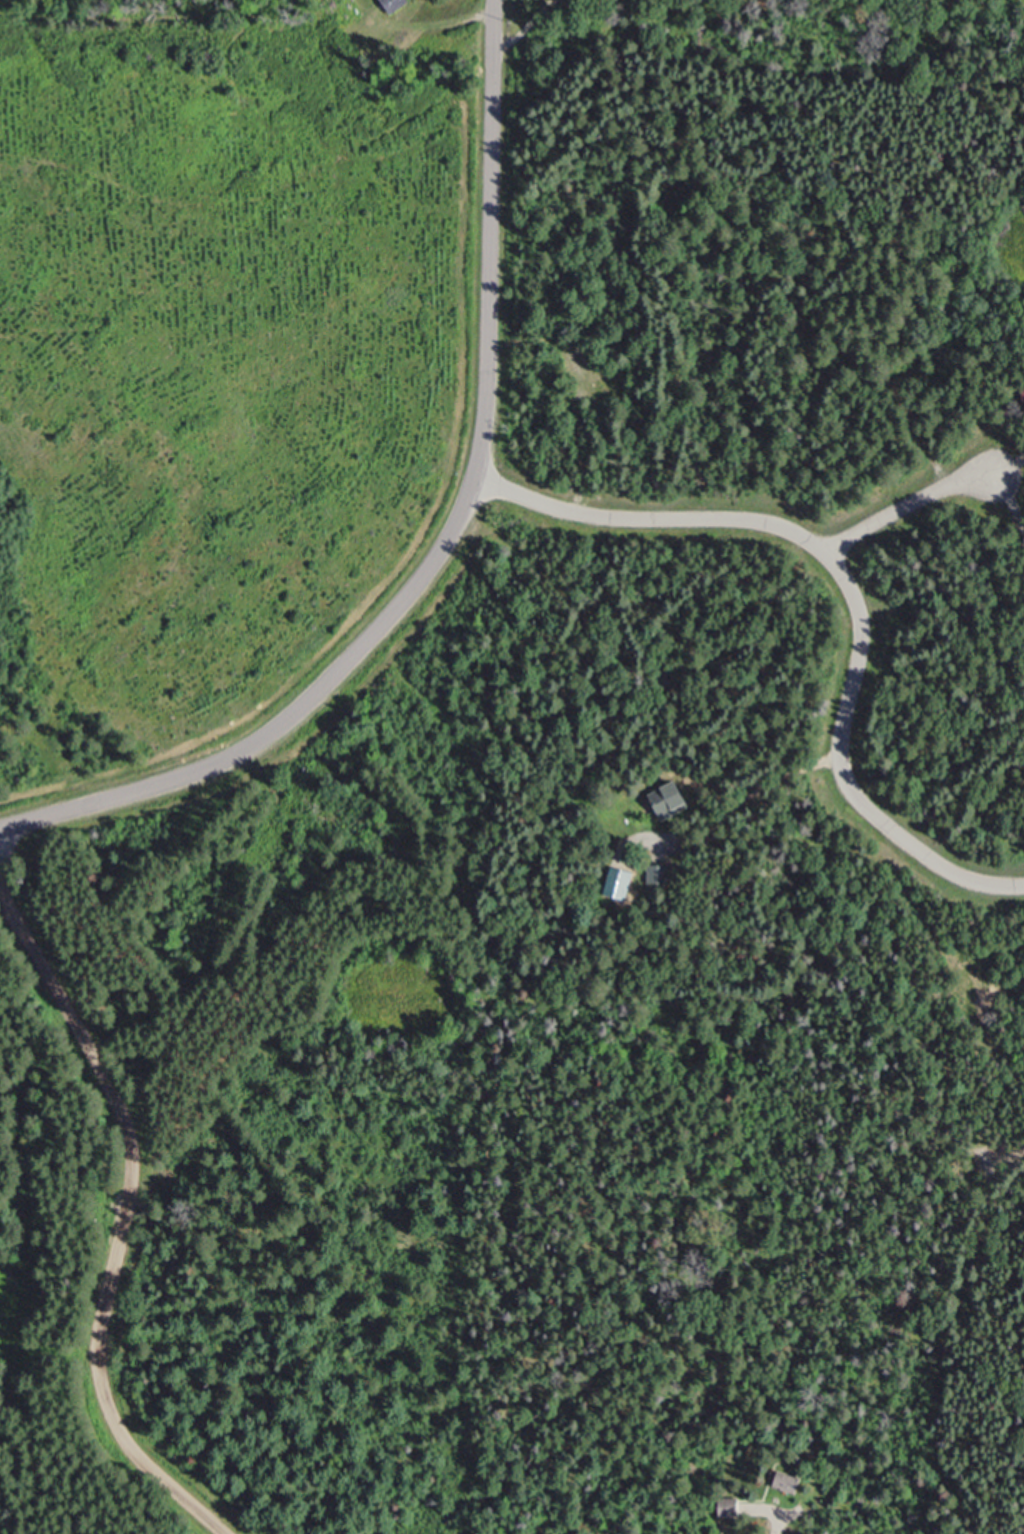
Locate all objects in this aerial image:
building: (395, 4)
road: (527, 29)
road: (578, 393)
road: (906, 507)
road: (446, 541)
road: (854, 588)
building: (674, 801)
building: (662, 874)
road: (121, 1210)
building: (791, 1483)

